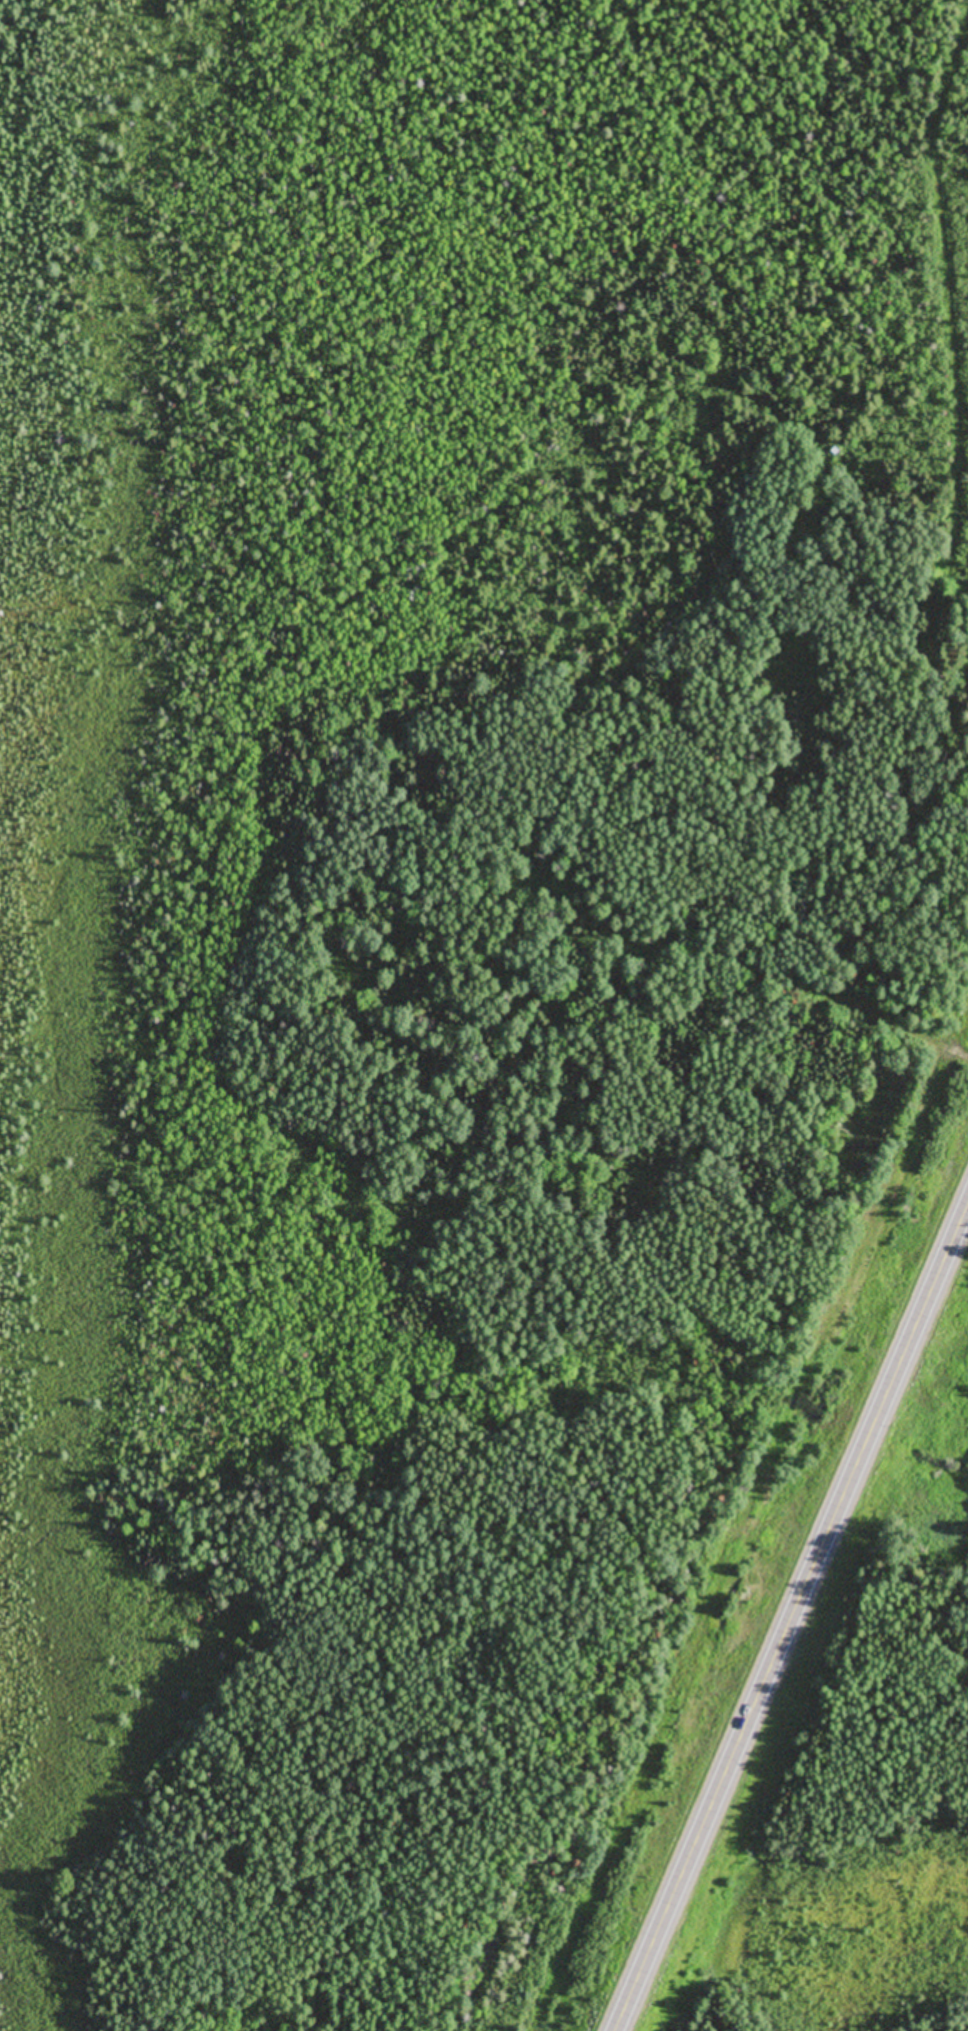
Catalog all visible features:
road: (789, 1615)

